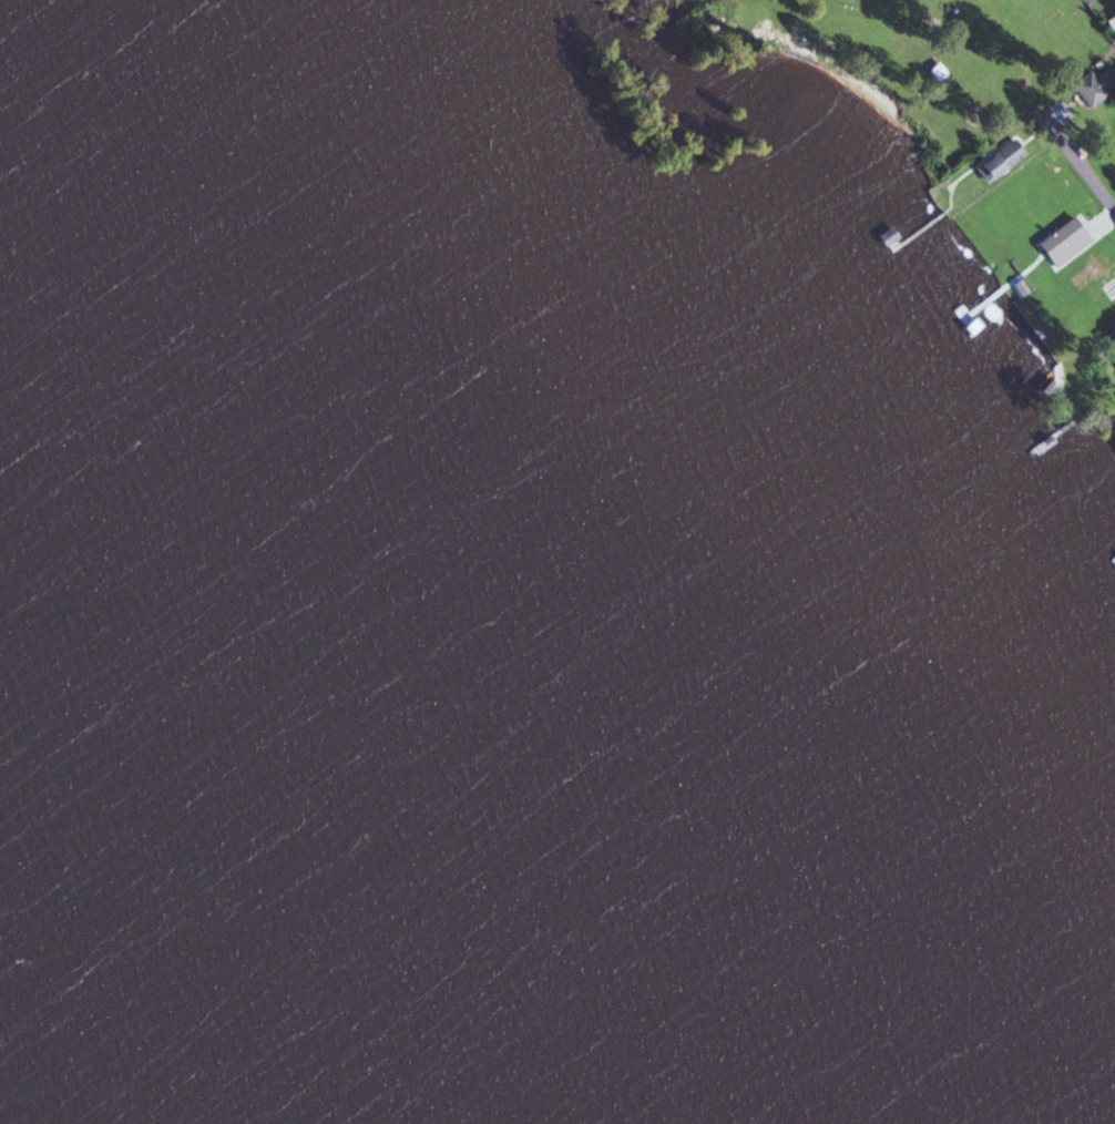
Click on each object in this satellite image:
road: (979, 19)
building: (1091, 89)
building: (1006, 160)
building: (1068, 238)
building: (1085, 268)

